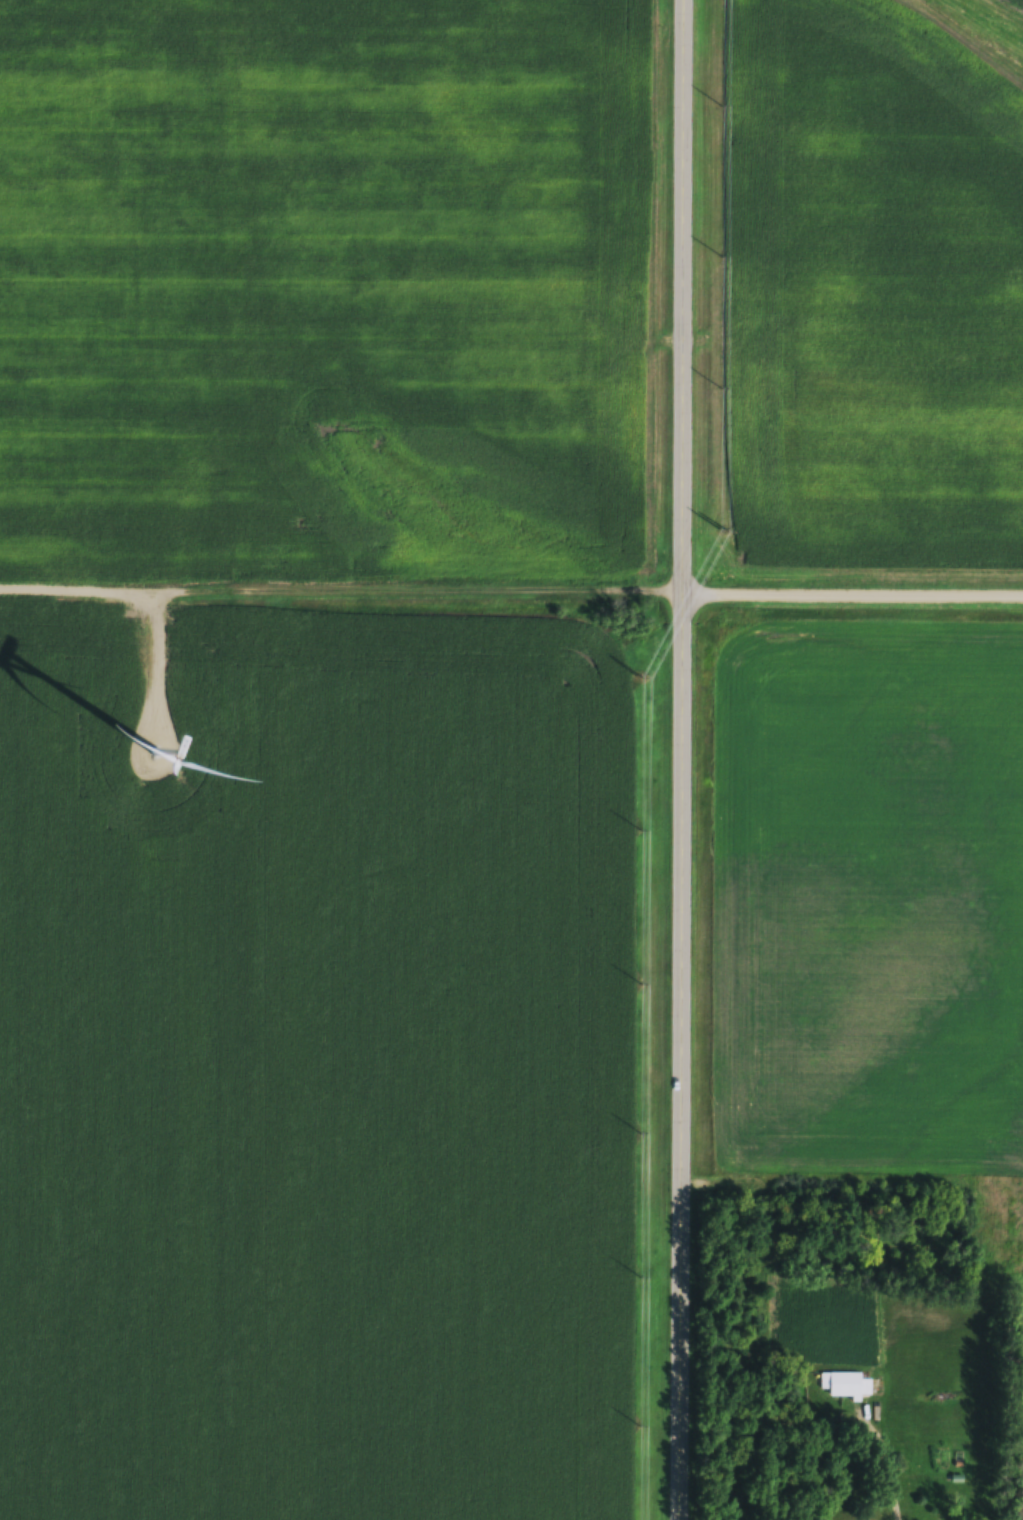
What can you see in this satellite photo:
road: (511, 592)
wind turbine: (156, 756)
road: (687, 760)
building: (841, 1386)
road: (886, 1470)

